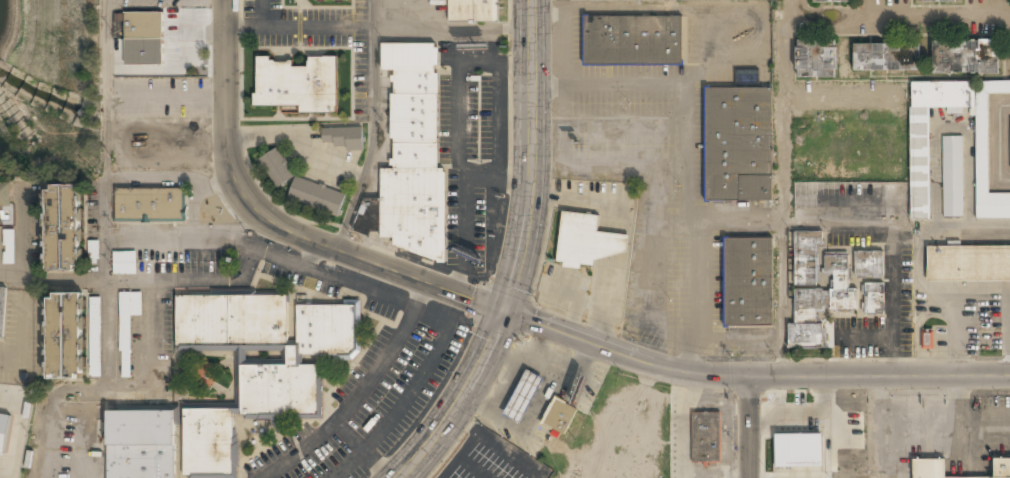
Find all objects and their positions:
building: (326, 0)
building: (639, 0)
building: (831, 1)
building: (939, 1)
building: (473, 11)
road: (261, 14)
building: (143, 26)
road: (379, 30)
building: (631, 41)
building: (965, 56)
building: (887, 58)
building: (815, 59)
road: (458, 76)
building: (746, 76)
building: (298, 84)
building: (1009, 119)
road: (373, 127)
building: (343, 138)
building: (738, 145)
building: (919, 152)
building: (410, 154)
building: (277, 168)
building: (952, 177)
building: (5, 195)
building: (317, 197)
building: (150, 205)
road: (463, 211)
building: (63, 228)
building: (585, 241)
building: (9, 248)
building: (93, 252)
road: (523, 256)
building: (124, 263)
building: (967, 264)
building: (868, 265)
building: (747, 282)
building: (816, 290)
building: (874, 300)
building: (3, 311)
traffic signals: (507, 311)
road: (517, 315)
building: (127, 328)
building: (64, 336)
building: (95, 337)
building: (928, 341)
building: (257, 366)
building: (523, 396)
gas station: (523, 396)
building: (558, 415)
road: (744, 426)
building: (4, 434)
building: (705, 437)
building: (141, 443)
building: (798, 450)
building: (1002, 468)
building: (929, 469)

